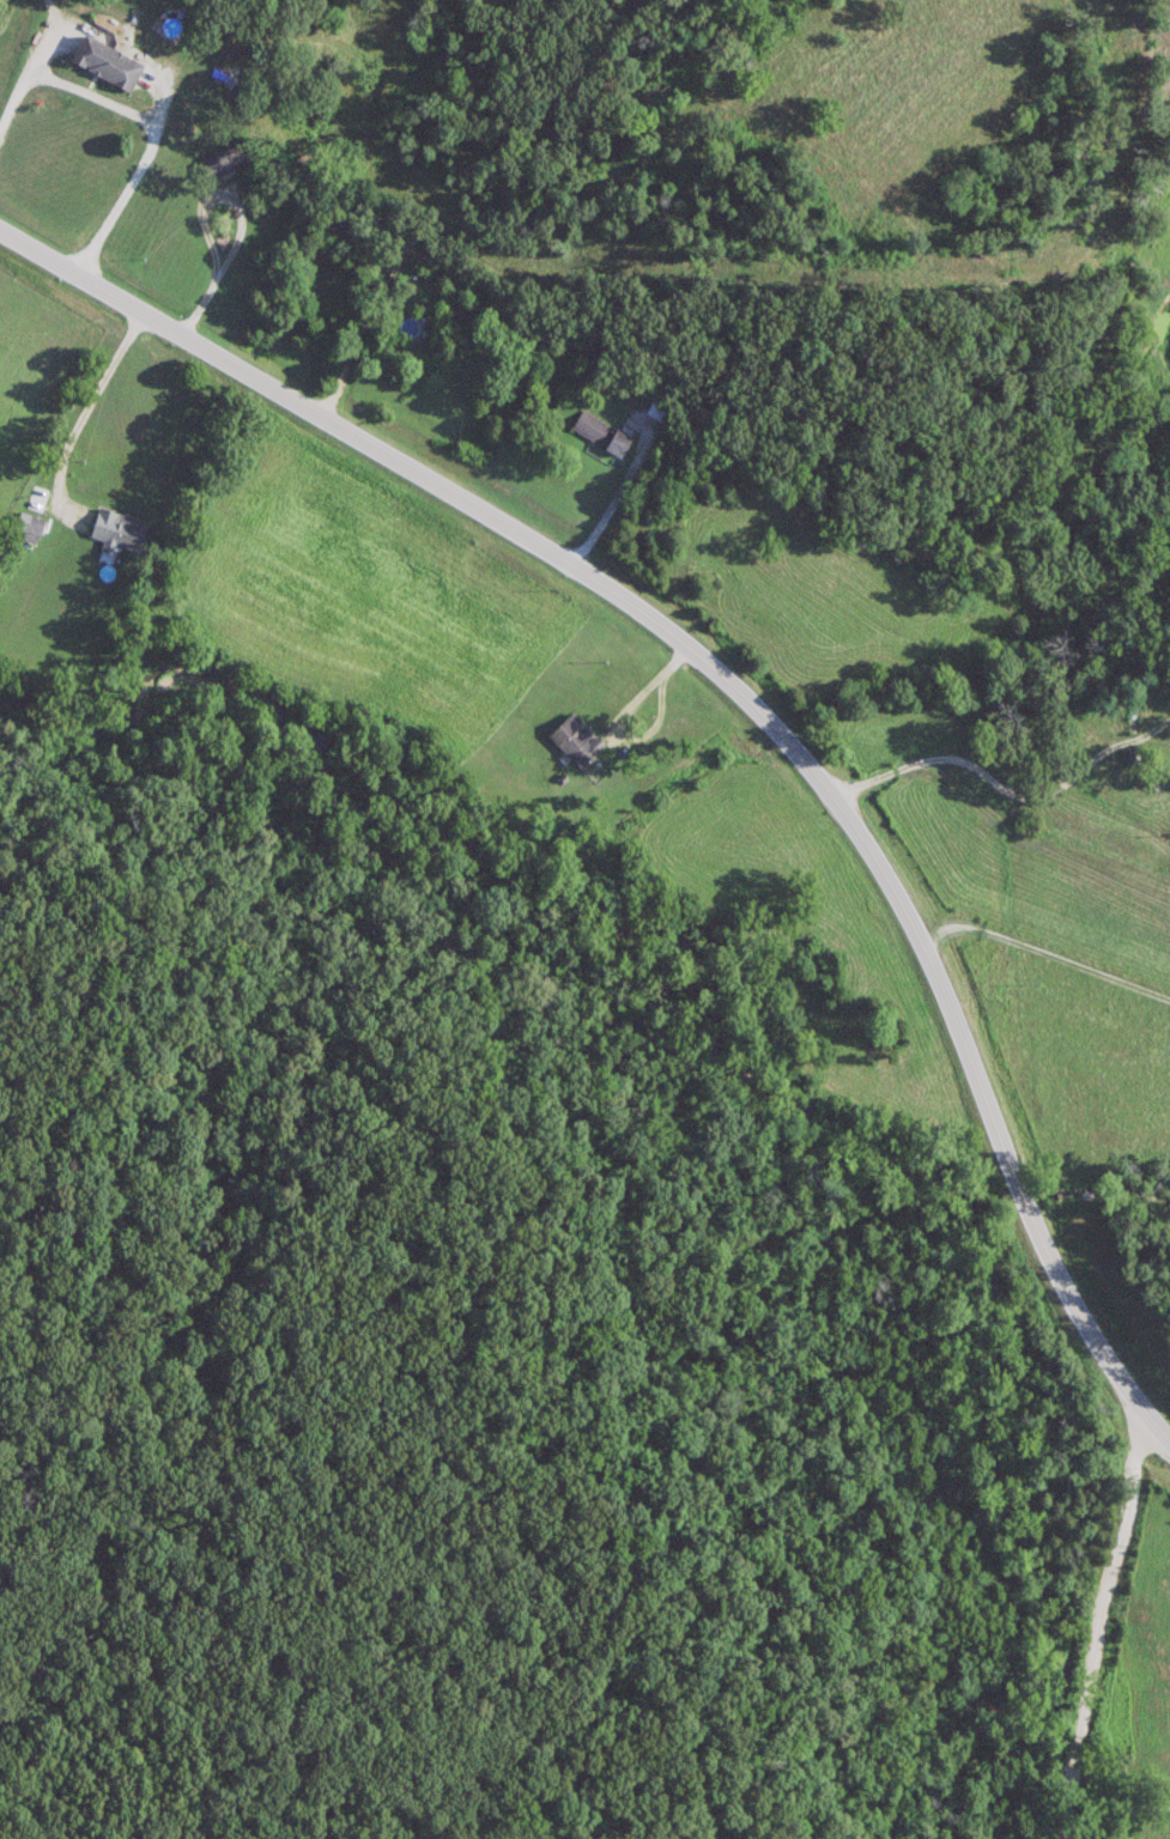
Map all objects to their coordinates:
building: (109, 62)
road: (143, 117)
building: (219, 163)
road: (360, 329)
road: (84, 409)
building: (593, 432)
building: (120, 532)
road: (738, 690)
road: (1152, 728)
building: (568, 739)
road: (1000, 787)
road: (1037, 844)
road: (1138, 1438)
road: (1091, 1652)

